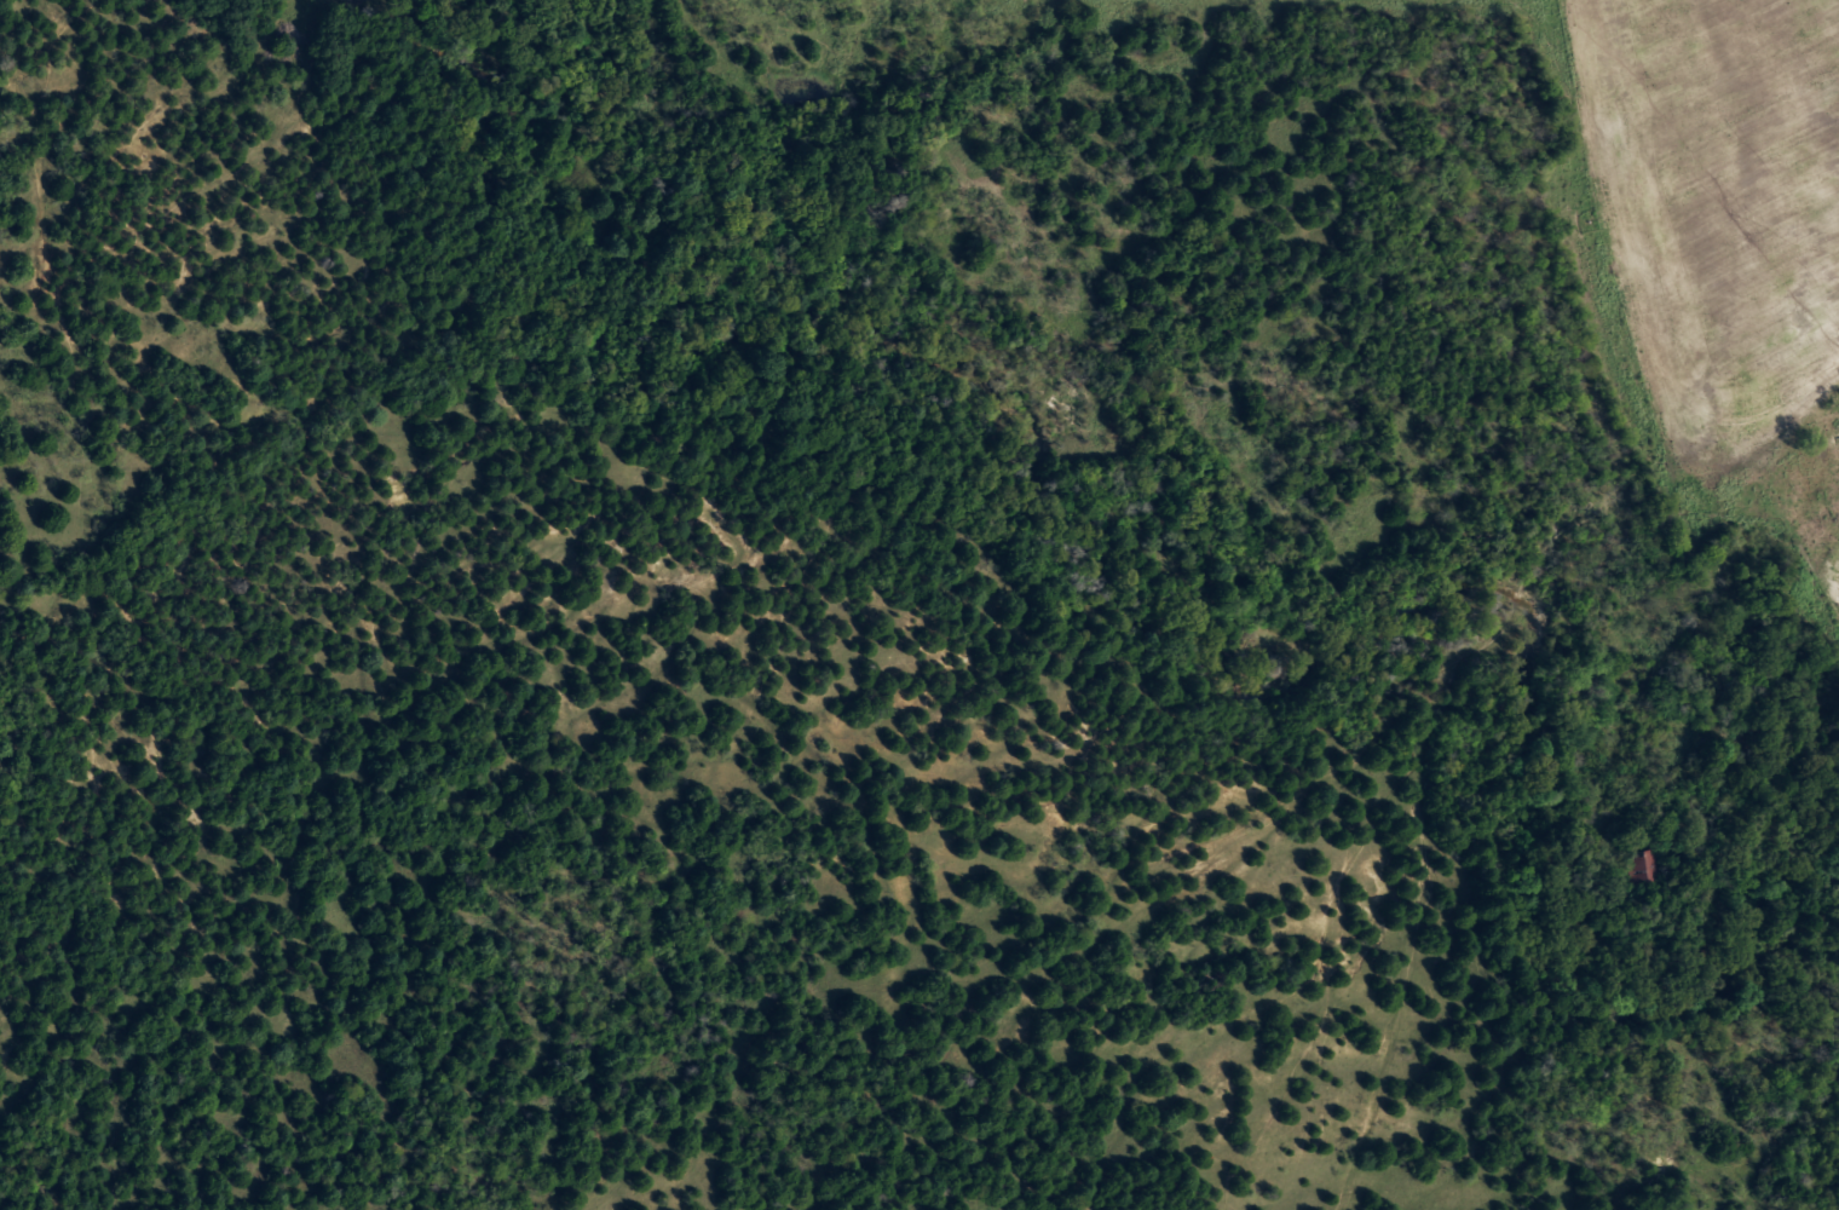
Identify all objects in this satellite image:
road: (1586, 267)
building: (1635, 864)

